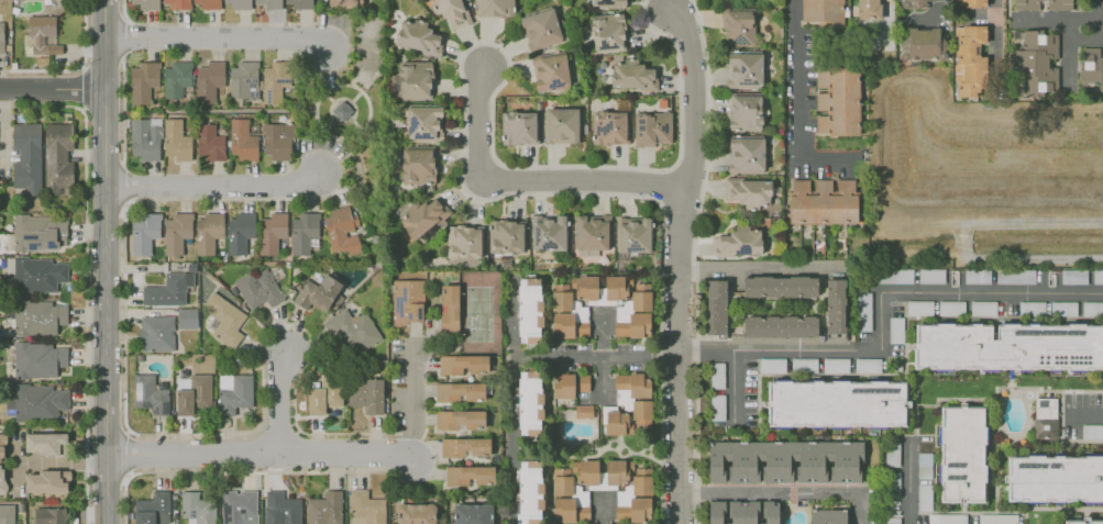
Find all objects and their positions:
building: (342, 2)
building: (605, 2)
building: (970, 2)
building: (146, 3)
building: (175, 3)
building: (206, 3)
building: (239, 3)
building: (269, 3)
building: (298, 3)
building: (912, 3)
building: (1026, 4)
building: (1060, 4)
building: (495, 8)
building: (868, 9)
building: (823, 11)
building: (451, 12)
road: (887, 15)
road: (1058, 18)
road: (1102, 18)
road: (224, 24)
building: (738, 26)
road: (997, 27)
building: (540, 29)
building: (607, 32)
building: (42, 34)
building: (417, 36)
building: (1, 37)
road: (124, 37)
road: (218, 37)
building: (919, 42)
building: (969, 60)
building: (1035, 63)
building: (1091, 66)
road: (75, 67)
building: (744, 69)
building: (550, 71)
building: (631, 75)
building: (176, 78)
building: (416, 79)
building: (208, 80)
building: (243, 80)
building: (274, 80)
building: (142, 81)
road: (82, 88)
road: (53, 89)
building: (838, 100)
road: (123, 110)
building: (744, 110)
building: (342, 111)
road: (799, 111)
building: (423, 122)
building: (561, 125)
building: (519, 127)
building: (608, 127)
building: (651, 127)
building: (145, 138)
building: (176, 140)
building: (242, 140)
building: (277, 141)
building: (210, 143)
building: (746, 154)
building: (26, 157)
building: (59, 157)
building: (417, 165)
road: (528, 180)
road: (123, 183)
road: (216, 185)
building: (749, 191)
building: (821, 201)
building: (424, 214)
building: (302, 231)
building: (342, 231)
building: (38, 232)
building: (144, 232)
building: (176, 232)
building: (208, 232)
building: (240, 232)
building: (272, 232)
building: (549, 232)
building: (591, 232)
building: (633, 234)
building: (506, 236)
building: (464, 242)
building: (739, 242)
road: (108, 261)
road: (681, 265)
road: (762, 270)
building: (38, 274)
road: (86, 275)
building: (894, 276)
building: (931, 276)
building: (978, 276)
building: (1015, 277)
building: (1073, 277)
building: (1098, 277)
building: (780, 286)
building: (585, 287)
building: (258, 288)
building: (615, 288)
building: (168, 289)
building: (317, 292)
building: (407, 301)
building: (835, 305)
building: (716, 306)
building: (449, 308)
building: (919, 308)
building: (951, 308)
building: (983, 308)
building: (1032, 308)
building: (1068, 308)
building: (1092, 309)
building: (529, 310)
building: (565, 311)
building: (863, 311)
road: (881, 311)
building: (635, 313)
building: (37, 316)
building: (186, 317)
building: (224, 319)
building: (779, 325)
building: (582, 330)
building: (895, 330)
building: (353, 331)
building: (156, 333)
building: (1008, 346)
road: (559, 354)
building: (37, 359)
building: (462, 364)
building: (804, 364)
building: (772, 365)
building: (836, 365)
building: (868, 365)
building: (717, 375)
building: (570, 384)
road: (734, 386)
building: (234, 391)
building: (460, 391)
building: (191, 392)
building: (366, 393)
building: (150, 394)
building: (323, 395)
road: (415, 398)
building: (37, 401)
road: (279, 401)
building: (530, 403)
building: (837, 403)
building: (630, 404)
building: (717, 408)
building: (583, 411)
road: (1087, 415)
building: (459, 417)
building: (1045, 417)
building: (1092, 432)
road: (162, 434)
road: (514, 439)
building: (44, 443)
building: (464, 446)
building: (2, 447)
road: (126, 453)
road: (262, 454)
building: (962, 455)
building: (892, 458)
building: (785, 461)
road: (62, 464)
building: (924, 466)
road: (255, 471)
building: (468, 475)
building: (2, 478)
building: (1055, 478)
building: (46, 481)
road: (909, 481)
building: (894, 488)
building: (633, 490)
building: (530, 492)
road: (782, 492)
building: (924, 497)
road: (124, 499)
building: (238, 506)
building: (197, 508)
building: (280, 508)
building: (366, 508)
road: (602, 508)
building: (152, 509)
building: (324, 509)
building: (743, 512)
building: (7, 513)
building: (416, 513)
building: (472, 513)
building: (49, 515)
building: (828, 516)
building: (947, 519)
building: (997, 519)
building: (892, 521)
building: (1083, 522)

